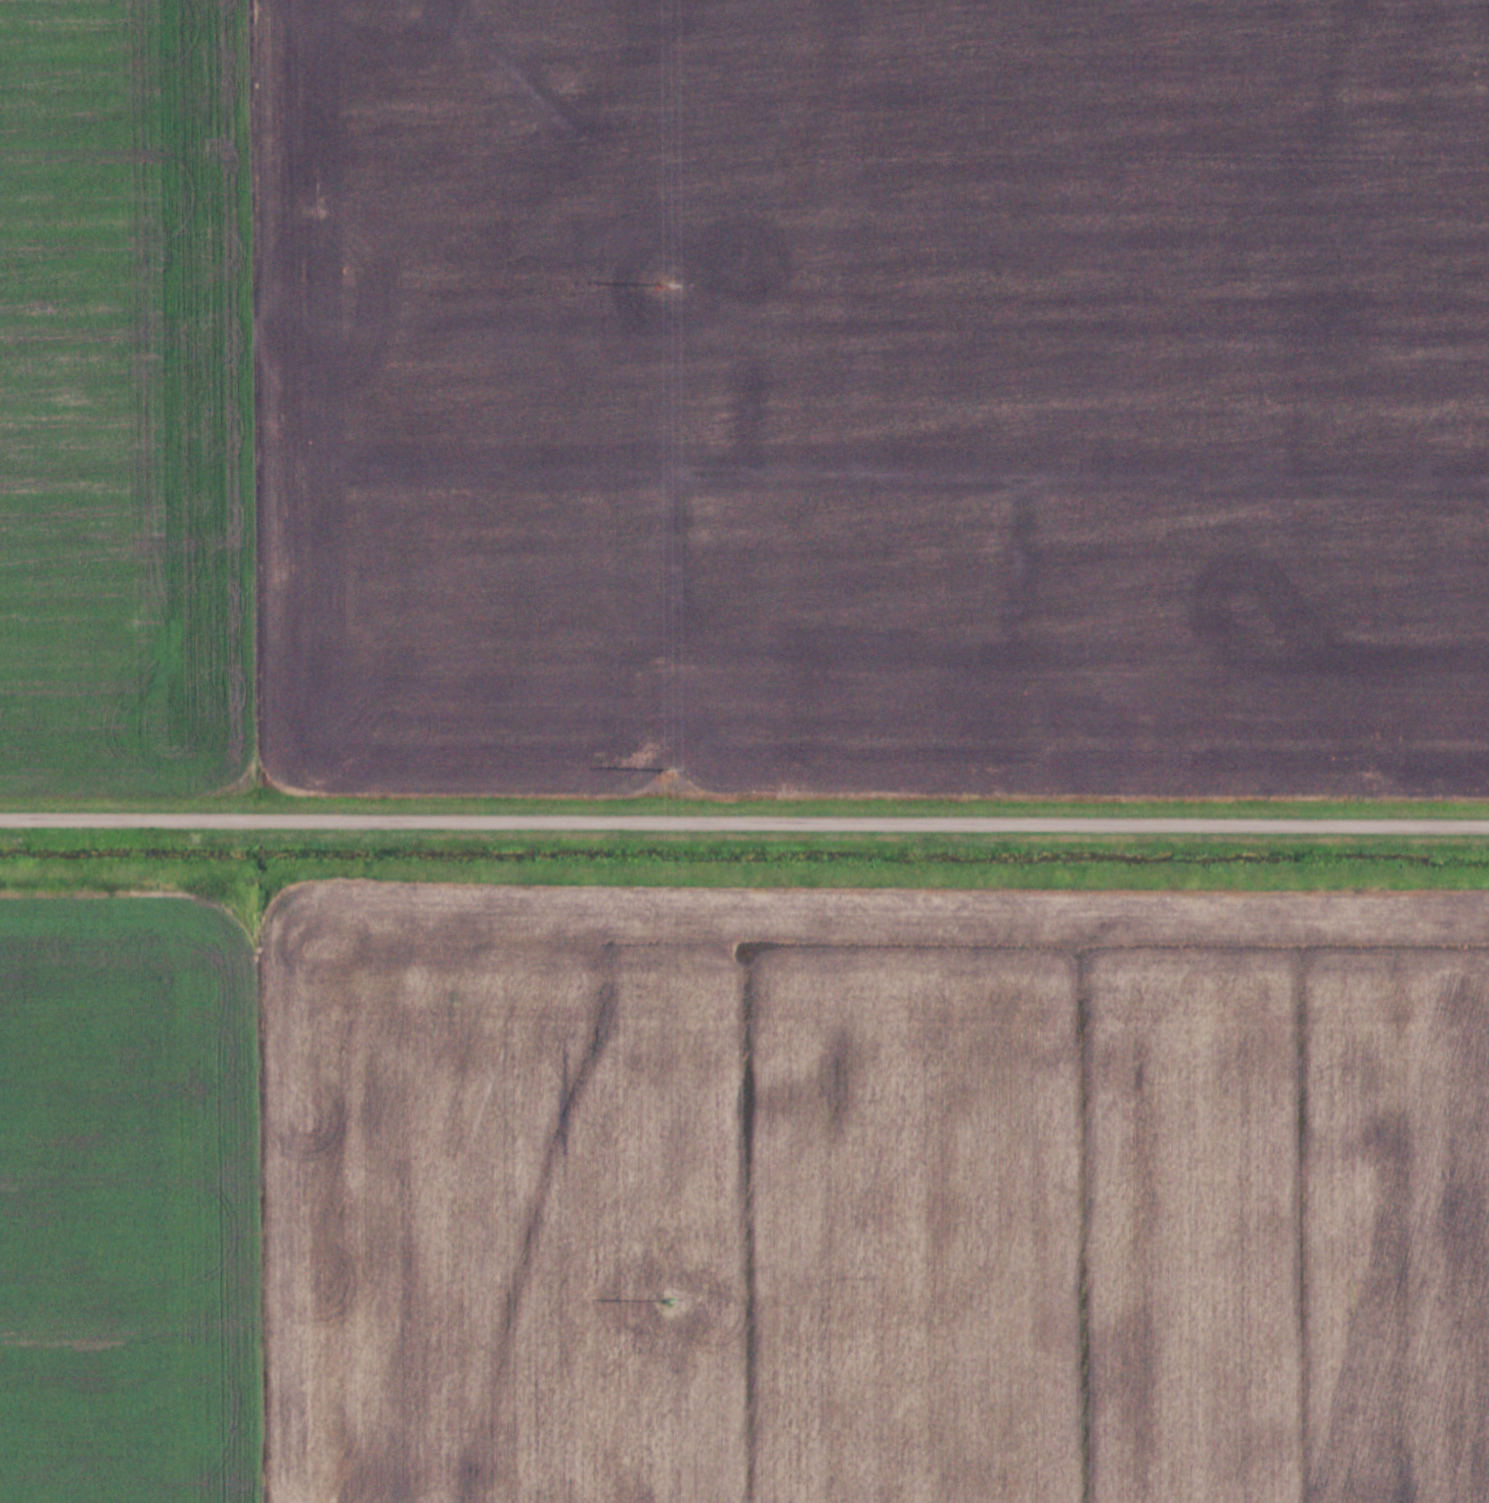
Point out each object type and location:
power tower: (658, 286)
crop: (130, 396)
crop: (876, 397)
power tower: (668, 769)
road: (744, 820)
crop: (874, 1193)
crop: (130, 1197)
power tower: (666, 1303)

